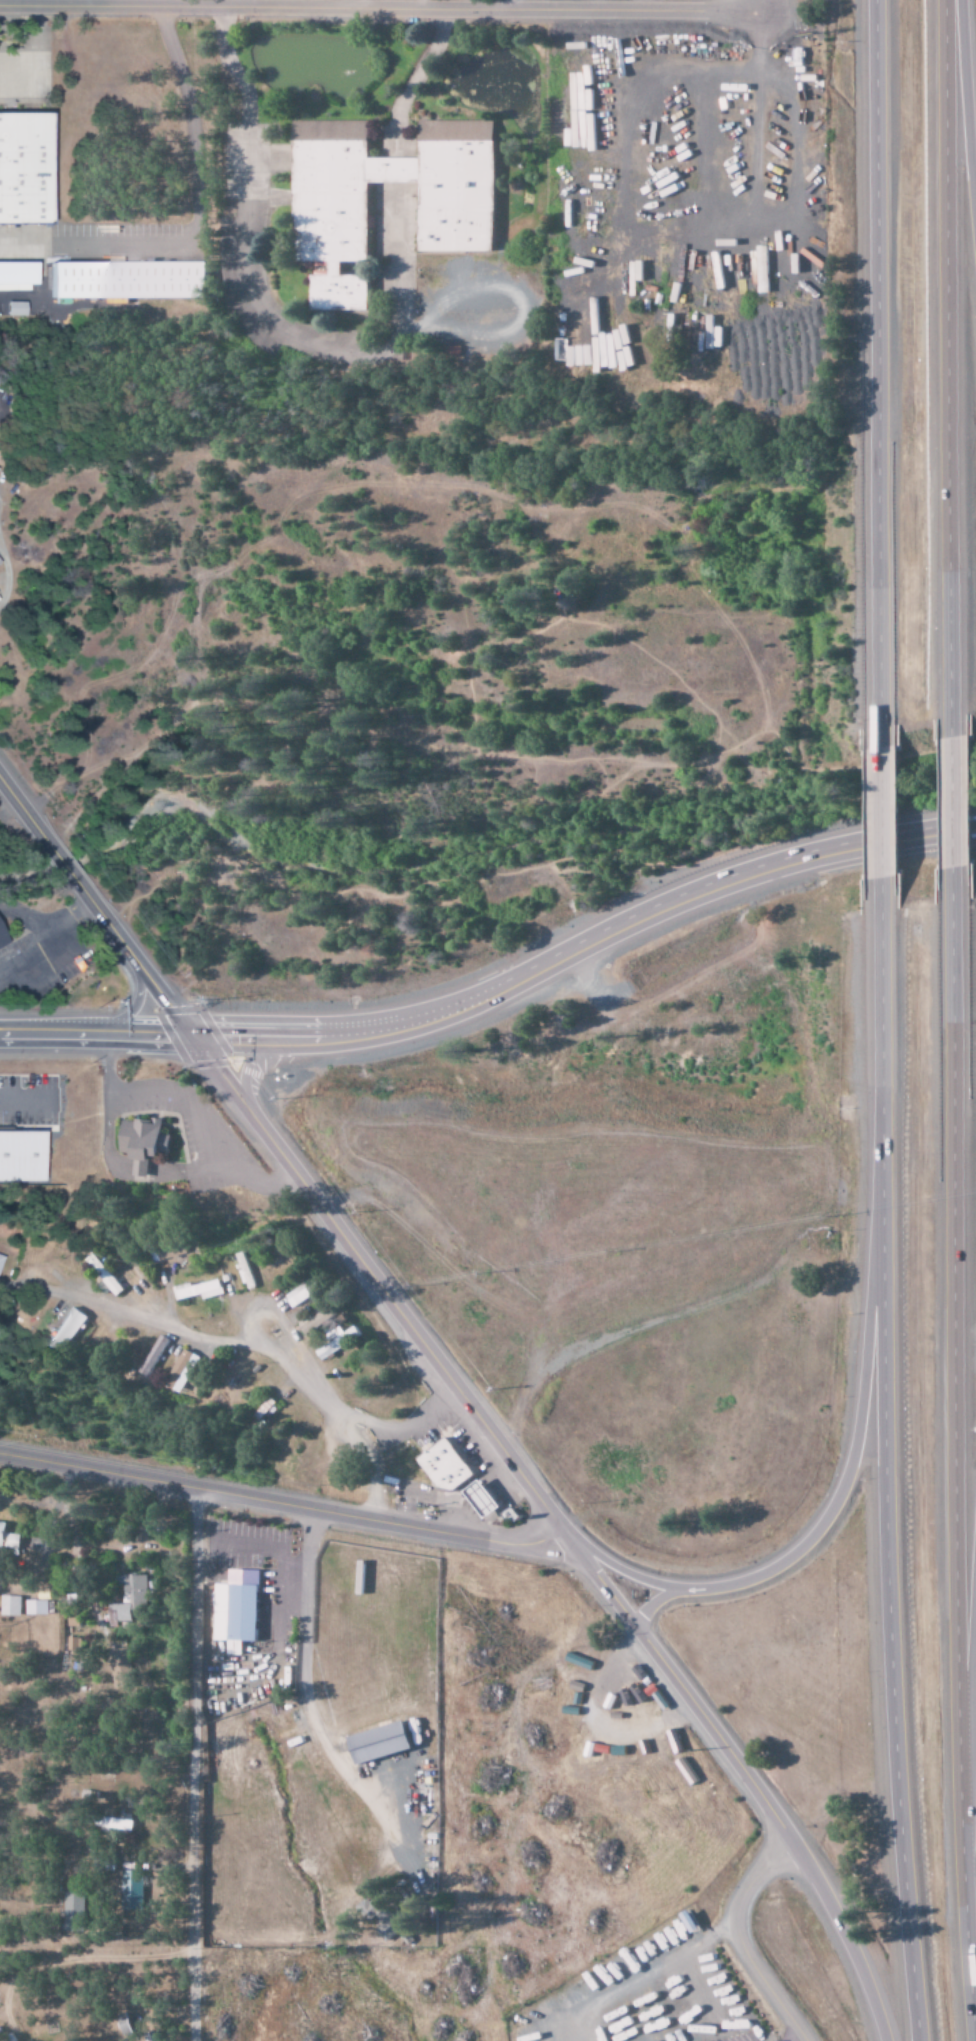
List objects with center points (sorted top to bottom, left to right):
road: (382, 8)
road: (971, 44)
building: (27, 168)
building: (458, 216)
building: (18, 275)
building: (133, 280)
road: (954, 365)
road: (879, 368)
road: (953, 807)
road: (877, 813)
road: (94, 907)
building: (4, 938)
road: (584, 944)
road: (93, 1034)
traffic signals: (187, 1034)
building: (144, 1142)
building: (20, 1155)
building: (1, 1259)
building: (247, 1270)
road: (371, 1281)
building: (200, 1290)
building: (302, 1294)
road: (137, 1318)
building: (69, 1329)
building: (340, 1340)
building: (183, 1370)
road: (302, 1373)
road: (963, 1385)
building: (447, 1465)
road: (888, 1465)
building: (486, 1499)
road: (278, 1502)
building: (7, 1537)
road: (808, 1537)
building: (128, 1598)
road: (302, 1598)
road: (652, 1602)
building: (9, 1605)
building: (35, 1607)
building: (232, 1609)
building: (73, 1644)
building: (119, 1667)
road: (674, 1684)
building: (374, 1743)
road: (189, 1764)
road: (974, 1809)
building: (106, 1822)
building: (129, 1890)
building: (71, 1912)
building: (379, 1917)
road: (842, 1939)
road: (735, 1941)
building: (148, 2036)

